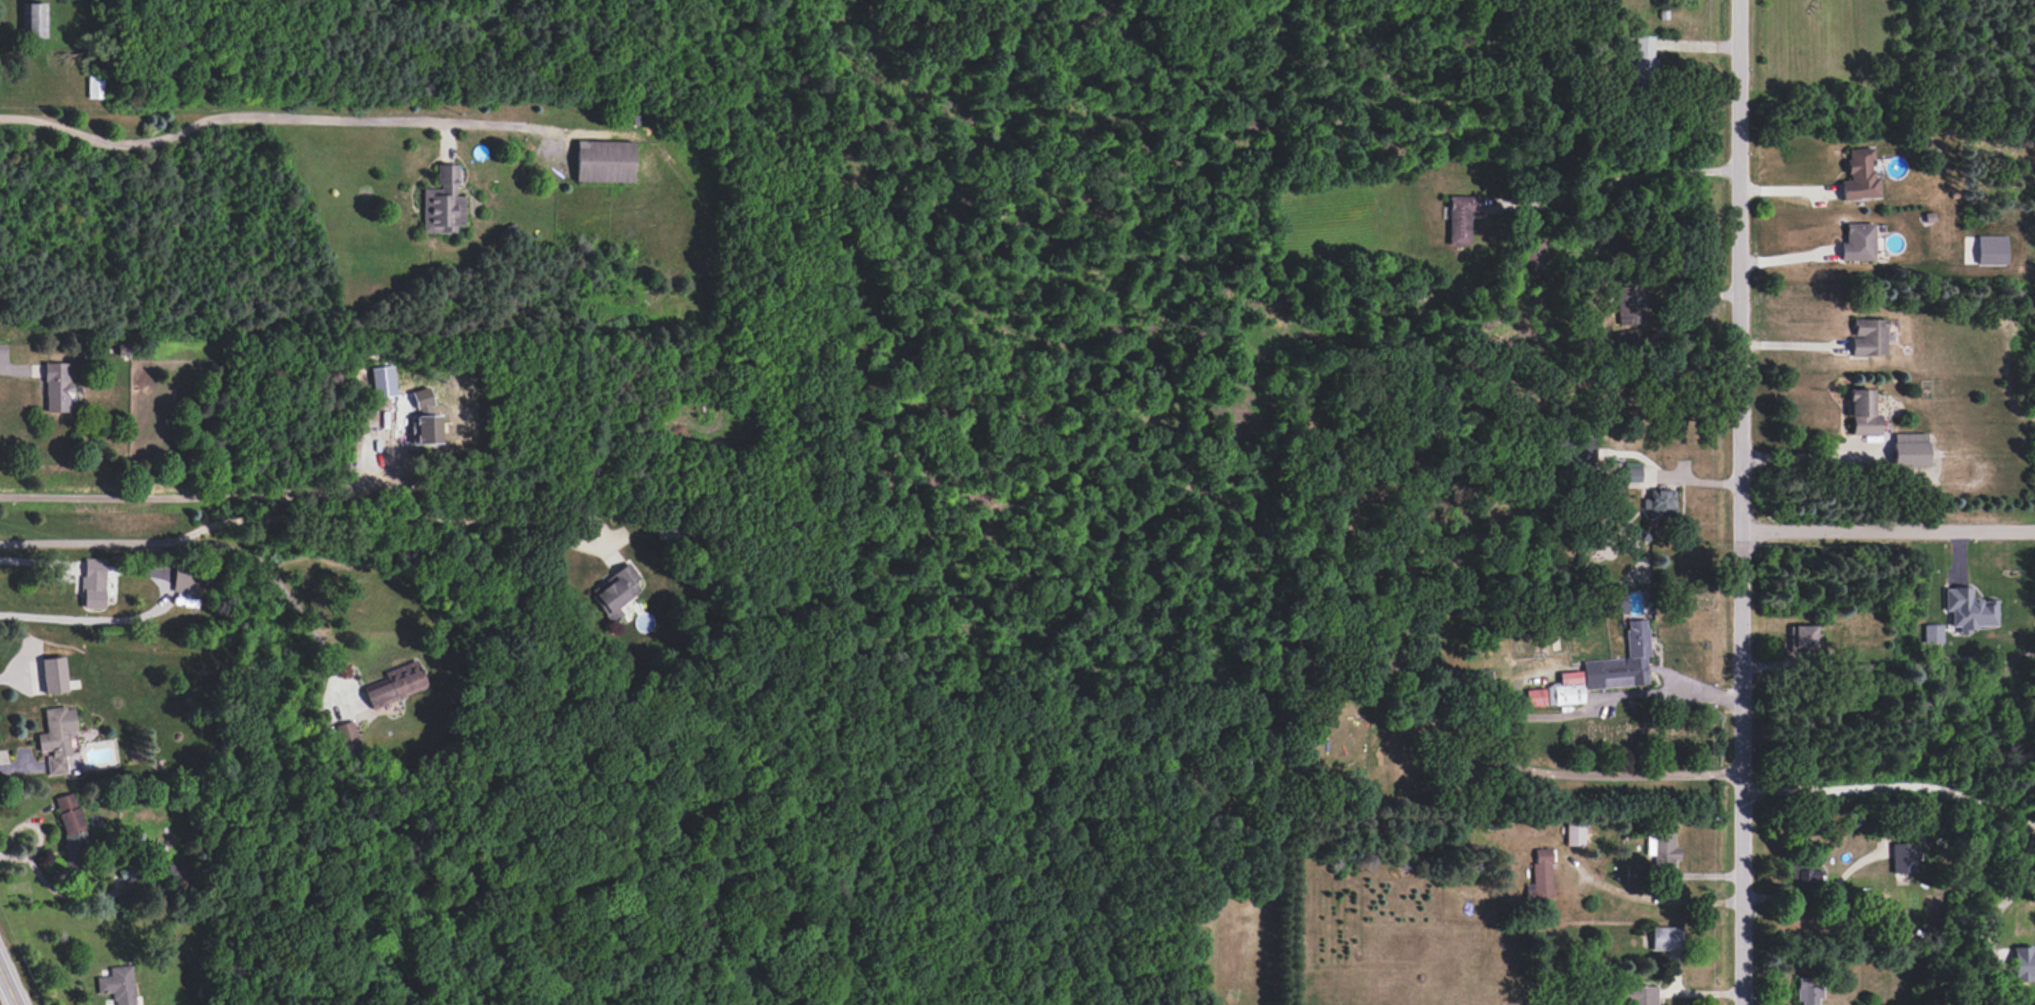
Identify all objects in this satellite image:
building: (33, 20)
building: (1644, 55)
building: (95, 86)
road: (276, 115)
building: (604, 161)
building: (1859, 175)
road: (1621, 178)
building: (443, 203)
building: (1461, 217)
building: (1858, 242)
building: (1991, 249)
road: (1785, 256)
building: (1631, 304)
building: (1869, 337)
road: (14, 377)
building: (383, 381)
building: (56, 386)
building: (1862, 412)
building: (424, 420)
building: (1909, 449)
road: (1808, 457)
building: (1628, 472)
road: (211, 496)
road: (1743, 502)
building: (1660, 503)
road: (283, 517)
road: (1889, 535)
road: (37, 562)
road: (269, 575)
building: (185, 579)
building: (93, 583)
building: (615, 591)
building: (1969, 609)
road: (56, 618)
building: (1933, 633)
building: (1802, 638)
building: (1621, 661)
building: (53, 674)
building: (398, 684)
building: (1565, 689)
building: (1535, 696)
road: (1591, 703)
building: (346, 735)
building: (57, 738)
road: (1893, 788)
road: (1347, 797)
building: (72, 829)
building: (1574, 833)
building: (1902, 857)
building: (1542, 872)
building: (177, 873)
building: (1635, 873)
building: (1803, 879)
road: (1811, 895)
road: (1651, 898)
road: (1994, 909)
building: (1665, 938)
building: (2023, 963)
road: (11, 980)
building: (118, 984)
building: (1808, 991)
building: (1638, 994)

